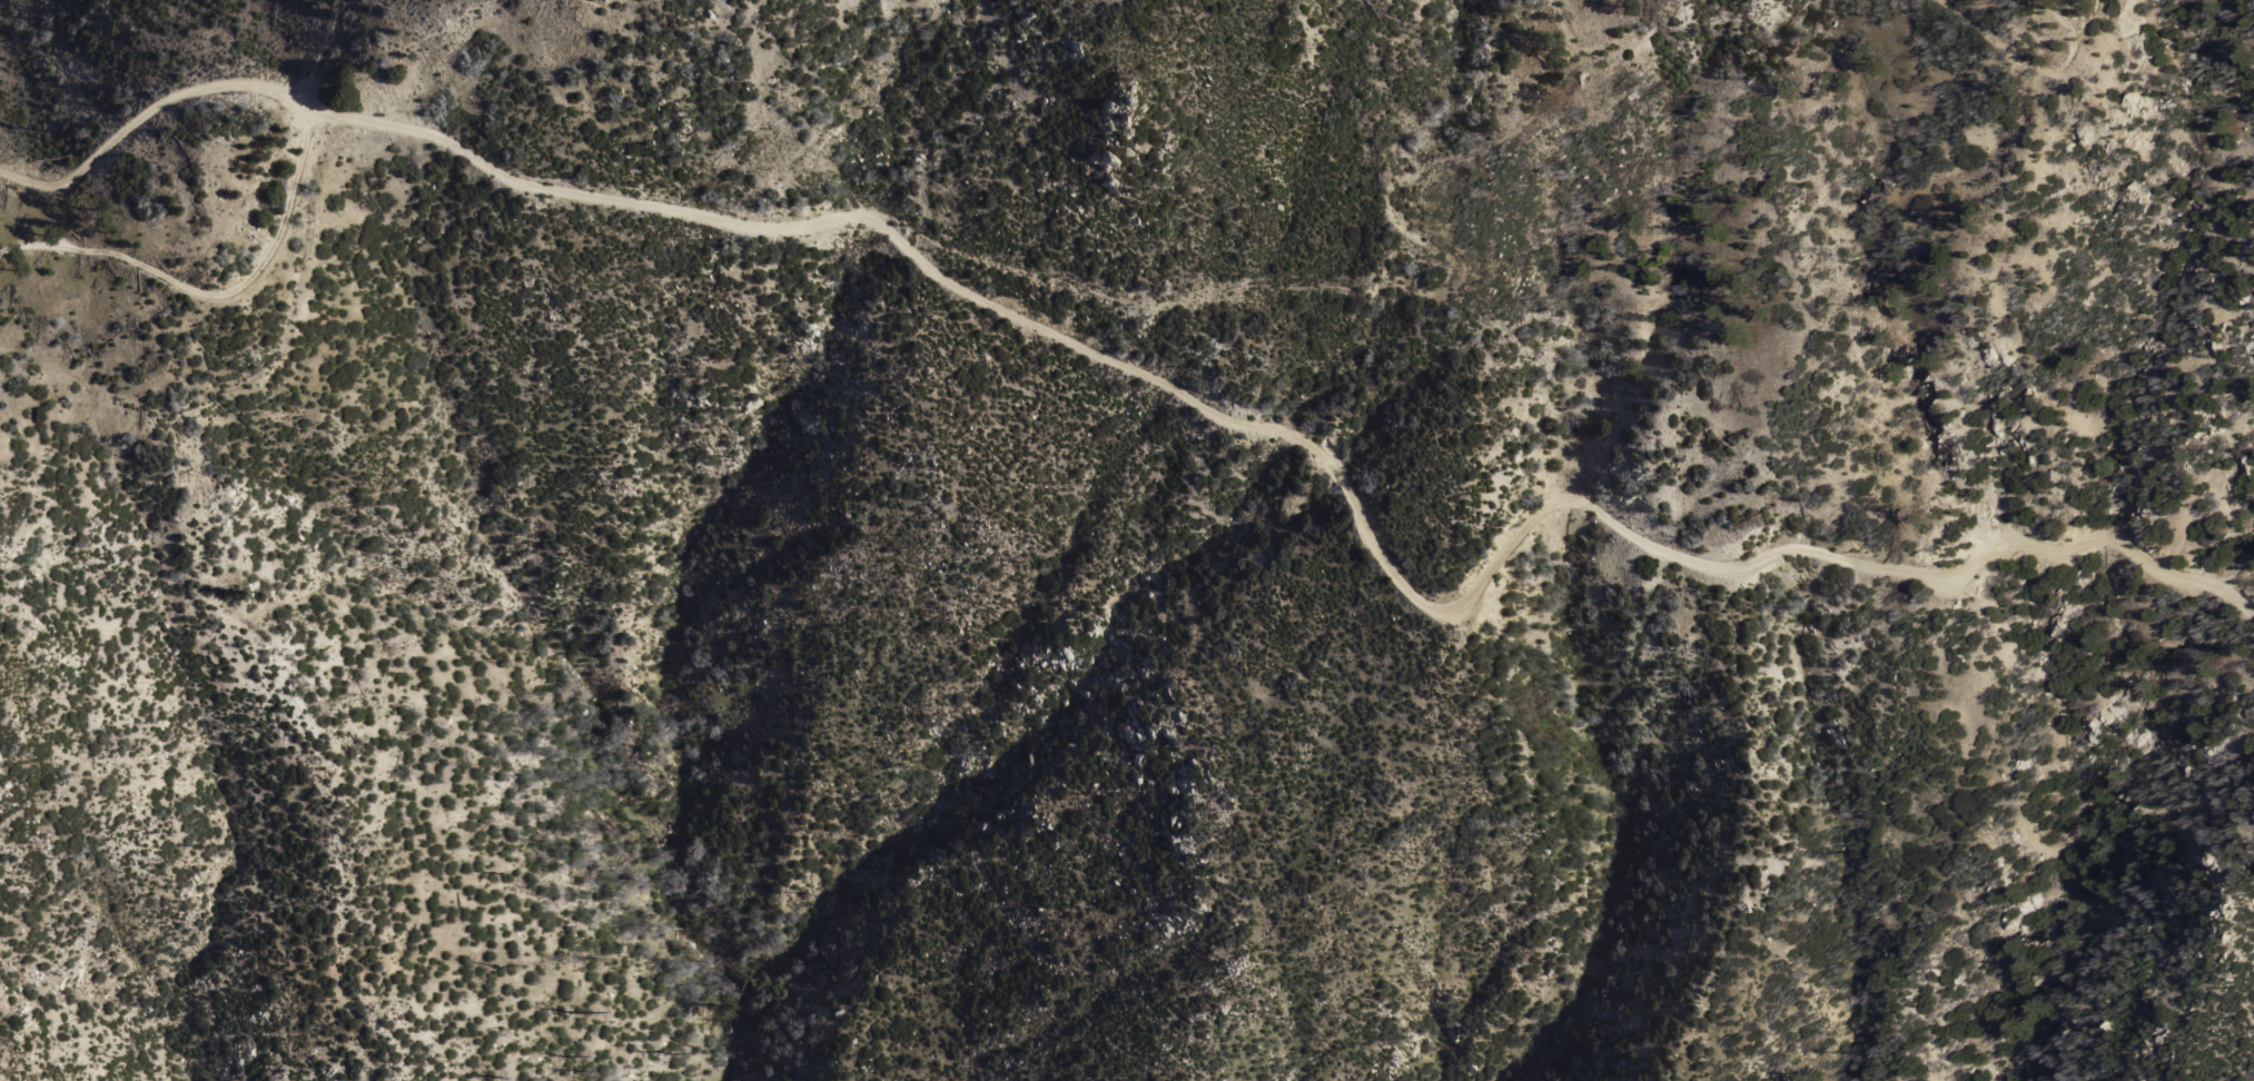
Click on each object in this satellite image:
road: (2031, 59)
road: (1447, 291)
road: (217, 295)
road: (1164, 386)
road: (215, 396)

